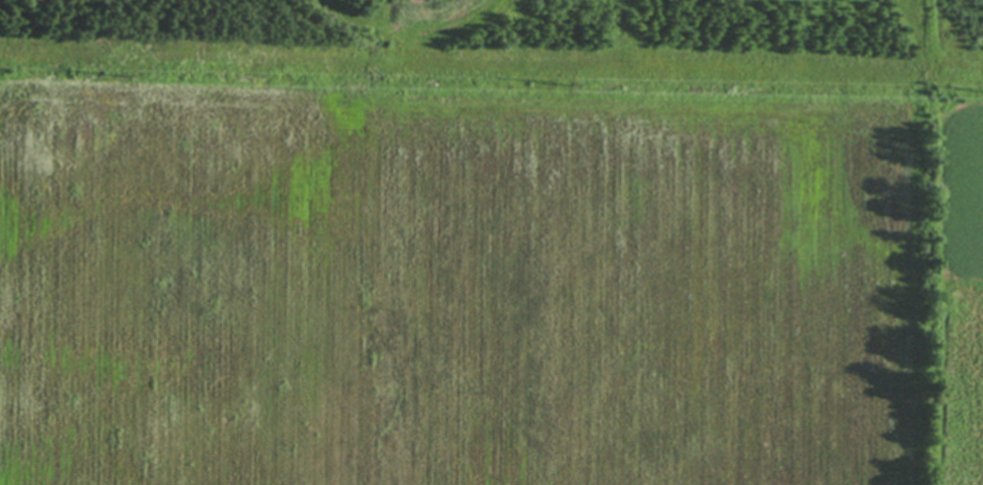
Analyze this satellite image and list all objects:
power tower: (120, 75)
power tower: (557, 82)

